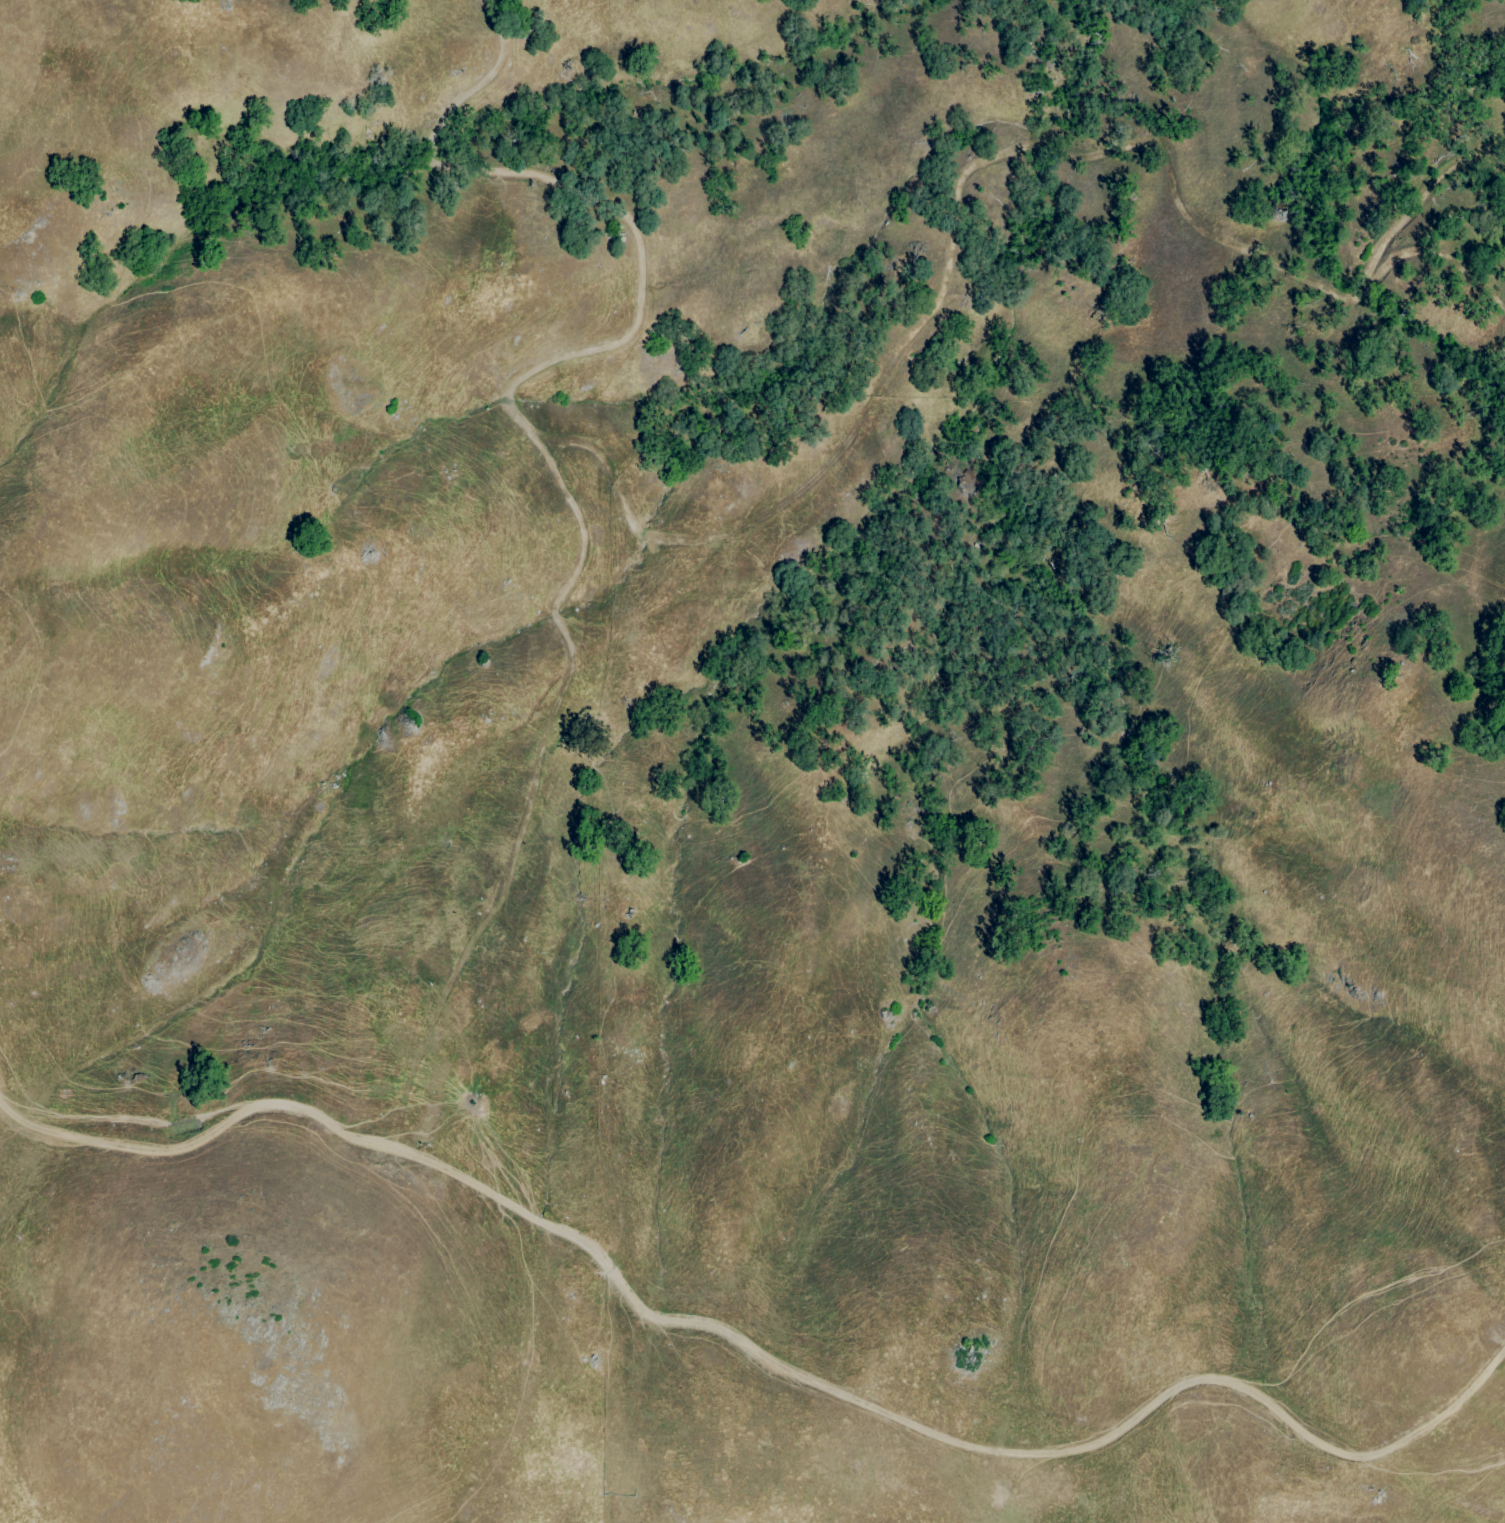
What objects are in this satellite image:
road: (748, 1347)

